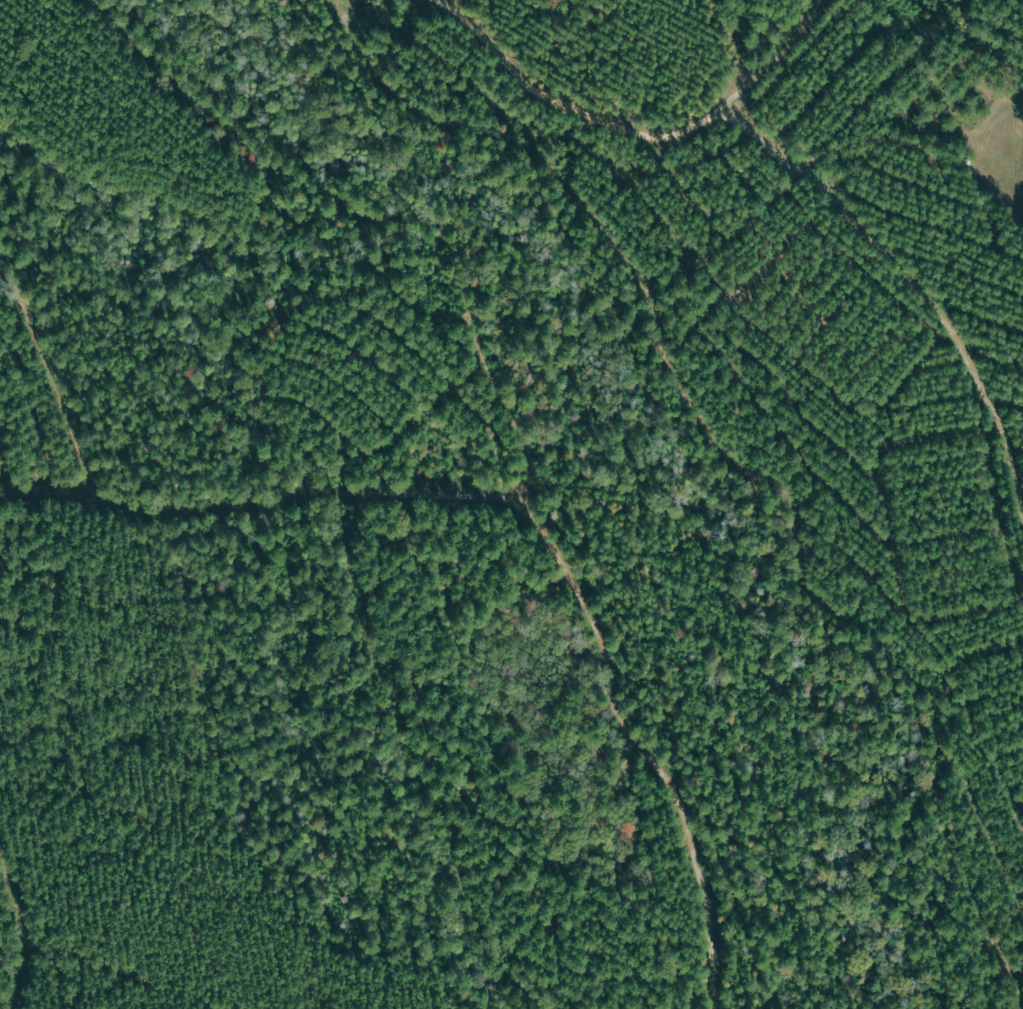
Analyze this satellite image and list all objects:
road: (747, 55)
road: (740, 445)
road: (681, 749)

